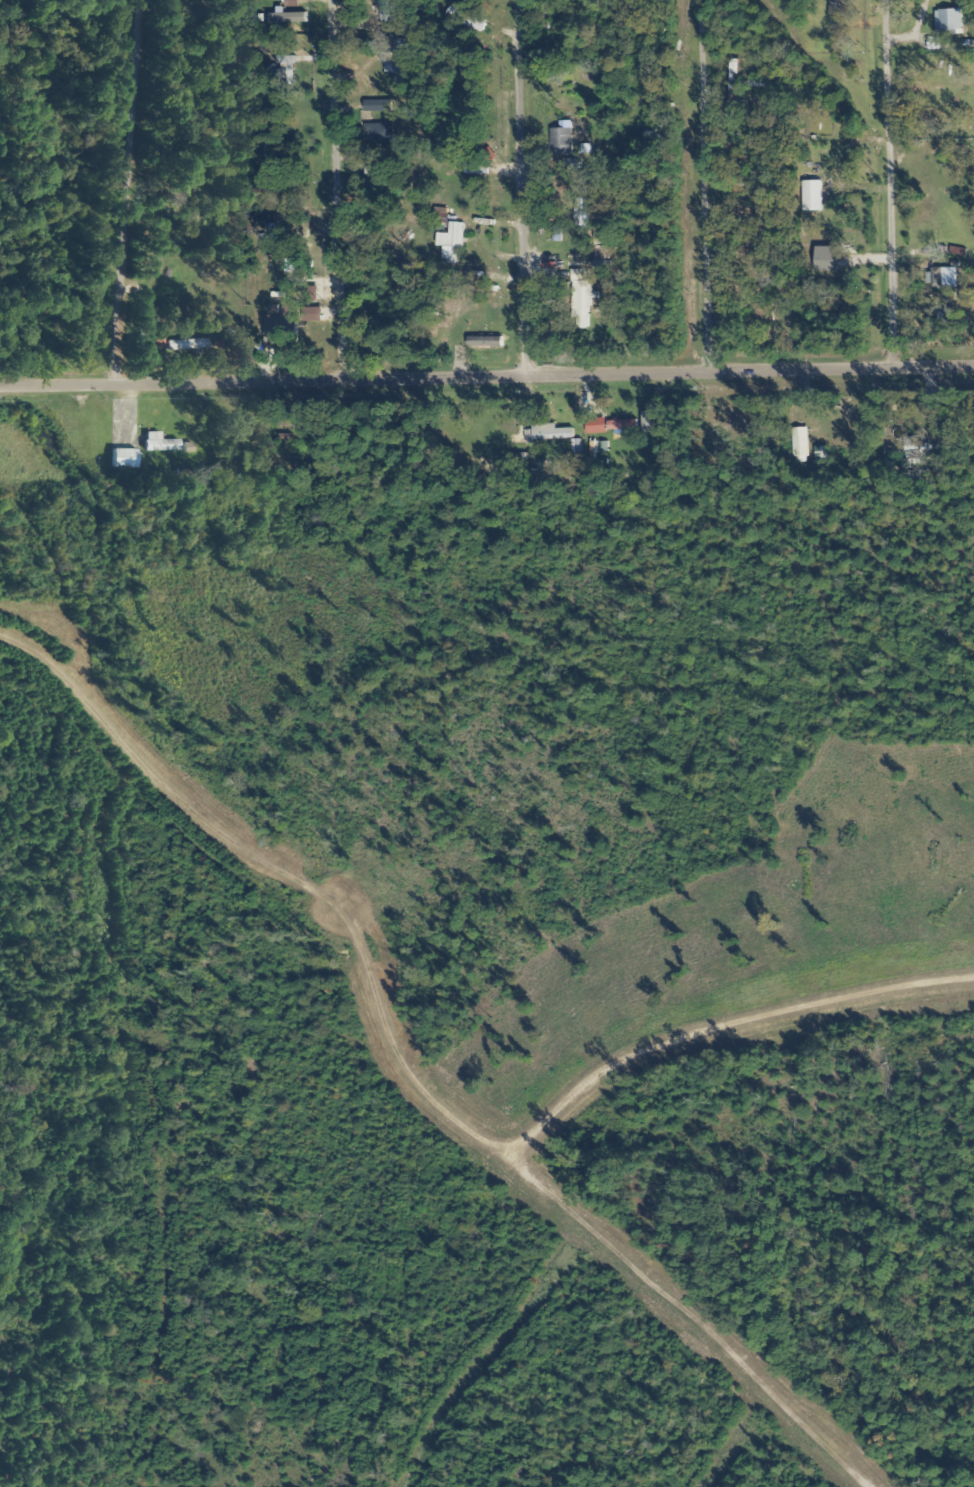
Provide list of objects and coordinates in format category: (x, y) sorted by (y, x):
building: (835, 7)
building: (372, 13)
building: (947, 22)
building: (542, 24)
building: (393, 58)
building: (732, 81)
building: (377, 105)
building: (376, 133)
building: (560, 141)
building: (375, 164)
road: (870, 173)
road: (686, 175)
road: (124, 178)
road: (326, 180)
road: (510, 180)
building: (264, 181)
building: (810, 195)
building: (439, 215)
building: (451, 242)
building: (826, 261)
building: (942, 277)
building: (580, 299)
building: (184, 345)
road: (487, 361)
building: (620, 424)
building: (549, 432)
building: (157, 443)
building: (797, 445)
building: (576, 446)
building: (911, 450)
building: (122, 458)

